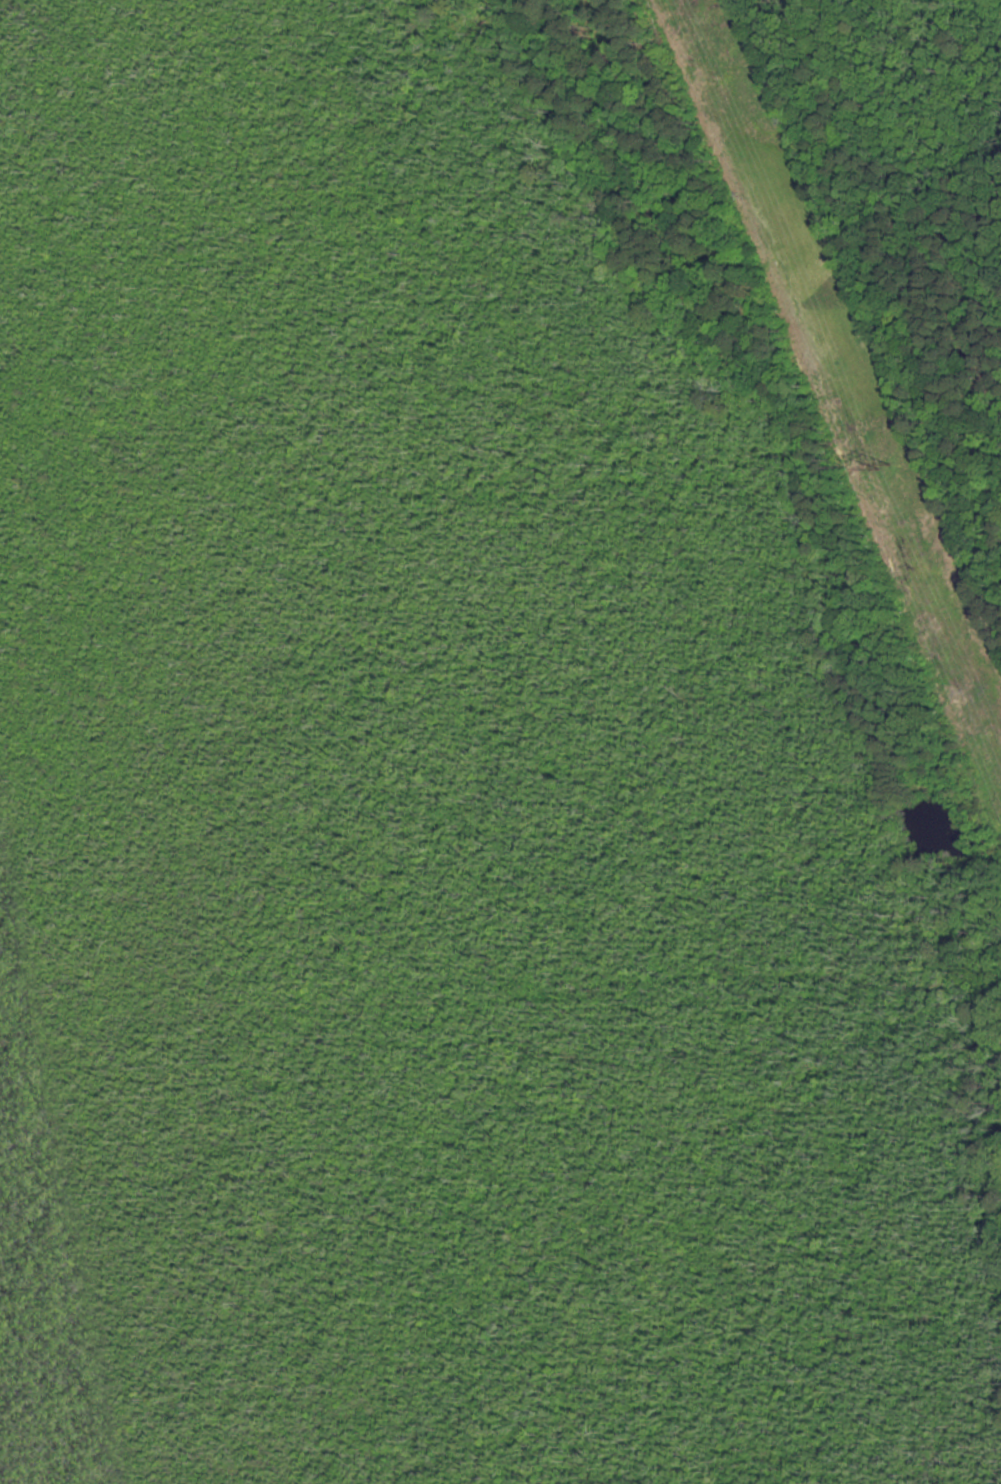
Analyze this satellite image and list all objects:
power tower: (885, 467)

